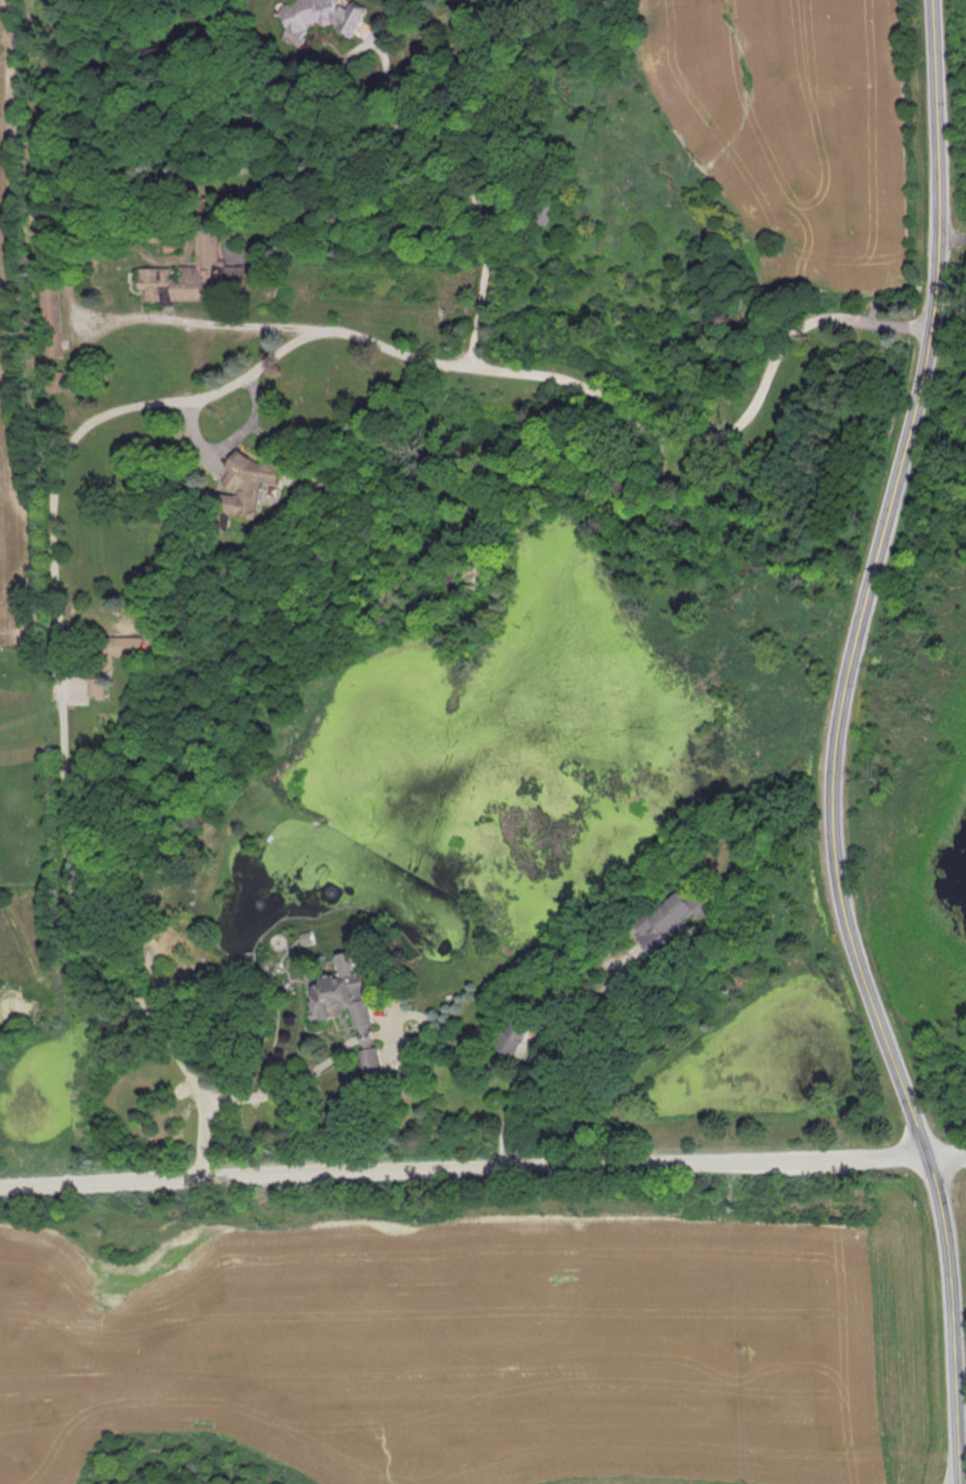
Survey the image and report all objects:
building: (324, 16)
road: (468, 194)
building: (550, 217)
road: (955, 235)
building: (196, 269)
building: (50, 319)
road: (207, 319)
road: (807, 331)
road: (719, 436)
road: (229, 438)
road: (55, 484)
building: (237, 492)
building: (106, 658)
road: (839, 744)
building: (708, 895)
building: (666, 920)
building: (512, 1033)
building: (366, 1046)
road: (538, 1046)
road: (284, 1091)
road: (949, 1155)
road: (570, 1167)
road: (103, 1181)

